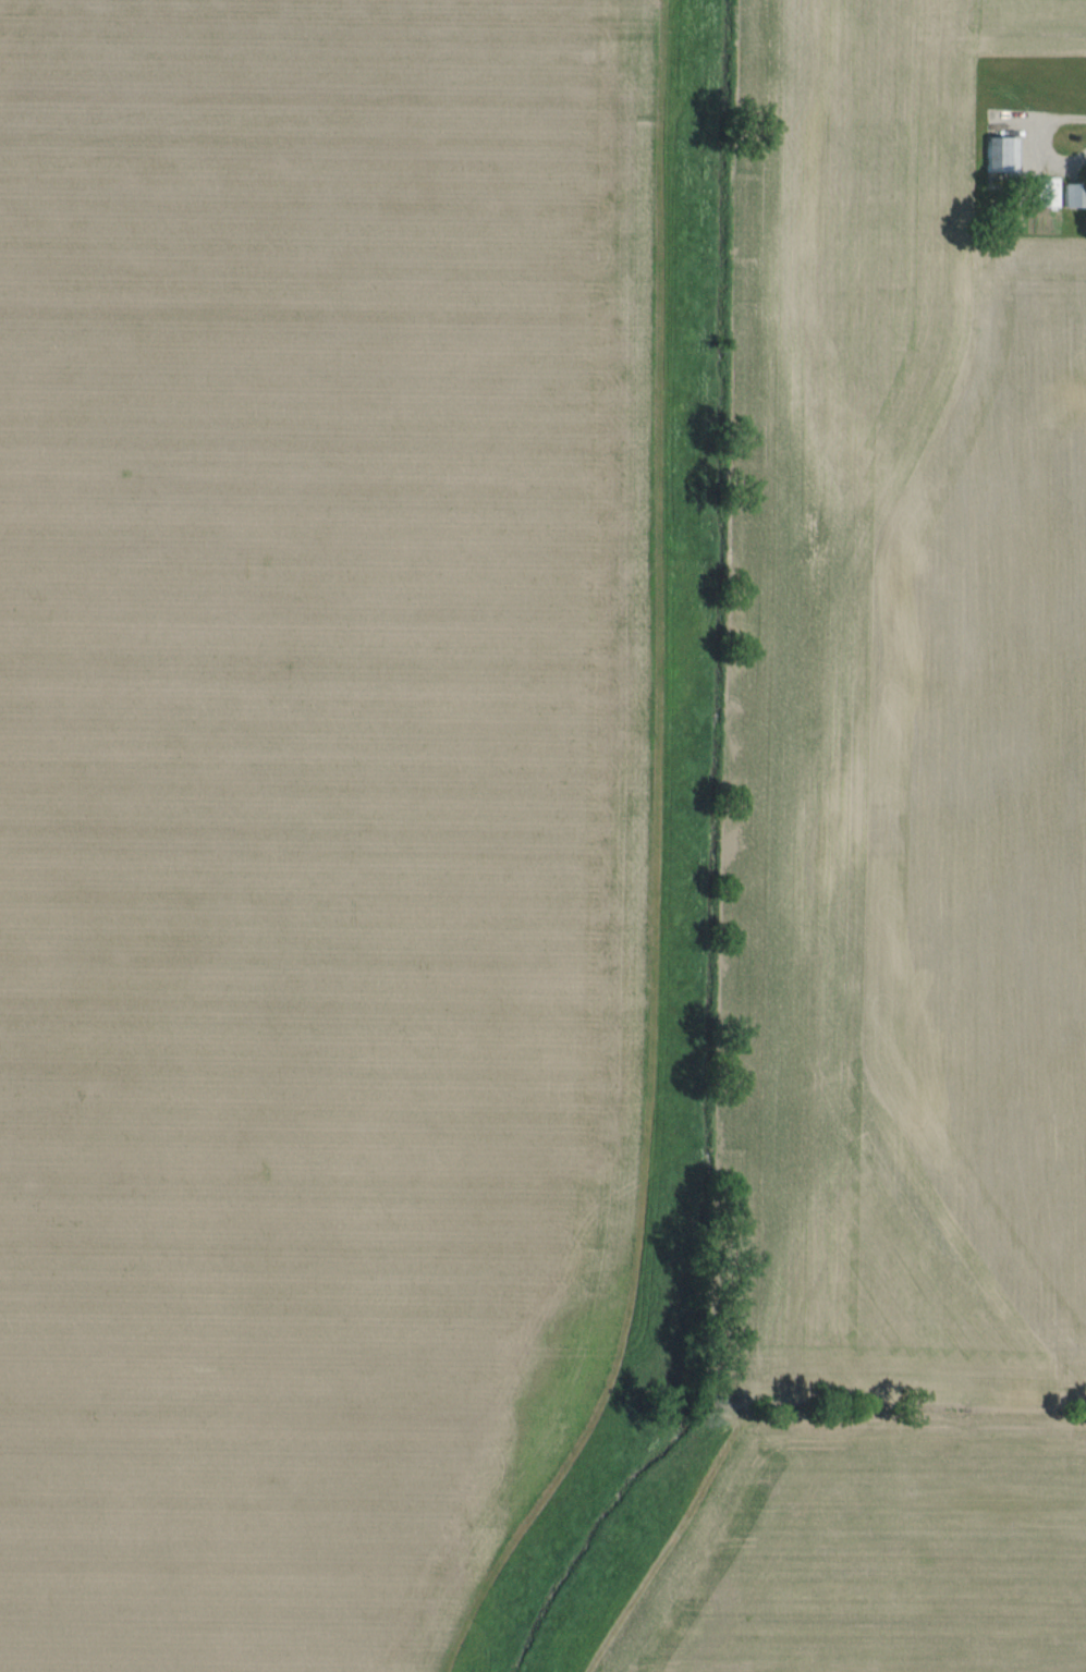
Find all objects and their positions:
road: (1042, 136)
building: (1002, 155)
building: (1047, 193)
building: (1074, 195)

